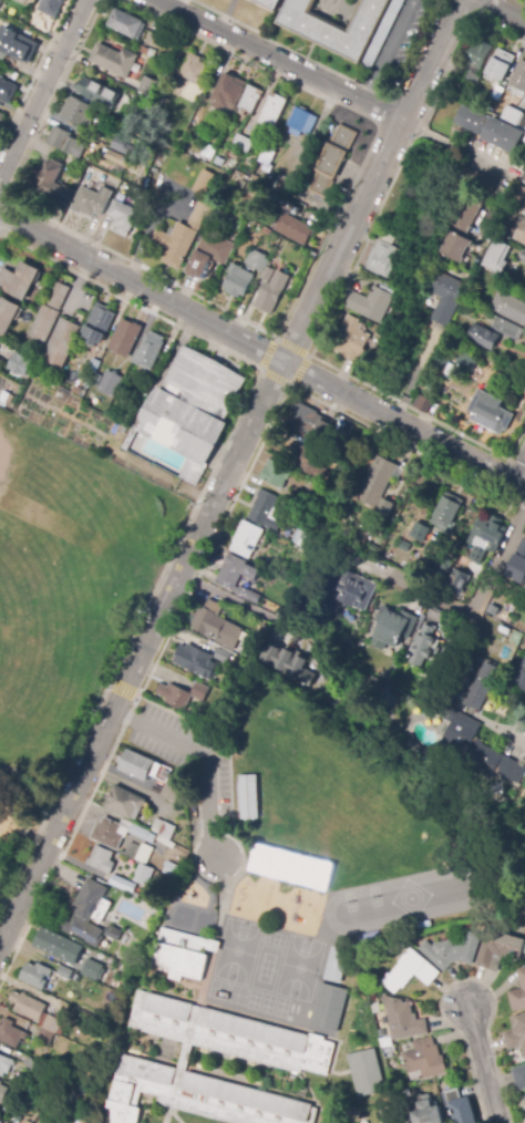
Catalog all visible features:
building: (0, 2)
building: (269, 3)
road: (178, 4)
building: (51, 7)
road: (502, 11)
building: (6, 14)
building: (346, 22)
building: (125, 23)
building: (6, 33)
building: (17, 49)
road: (388, 50)
road: (278, 58)
building: (114, 61)
building: (477, 61)
building: (500, 65)
building: (194, 70)
road: (34, 72)
building: (517, 80)
building: (147, 85)
road: (41, 90)
building: (7, 91)
building: (228, 92)
building: (498, 92)
building: (97, 93)
building: (140, 97)
building: (250, 100)
building: (272, 111)
building: (78, 112)
building: (1, 119)
building: (518, 120)
building: (472, 121)
building: (301, 122)
building: (503, 135)
building: (66, 142)
building: (243, 143)
building: (124, 146)
building: (208, 151)
building: (268, 157)
building: (117, 158)
building: (332, 161)
building: (48, 177)
building: (203, 182)
building: (481, 183)
building: (281, 184)
building: (64, 195)
building: (91, 202)
building: (467, 213)
building: (123, 217)
building: (295, 229)
building: (521, 233)
building: (184, 235)
building: (455, 246)
building: (215, 247)
building: (523, 256)
building: (384, 257)
building: (500, 257)
building: (257, 260)
building: (197, 267)
building: (268, 274)
road: (347, 278)
building: (19, 280)
building: (238, 281)
building: (271, 293)
building: (449, 299)
building: (371, 303)
building: (508, 308)
building: (49, 312)
building: (8, 316)
building: (99, 324)
building: (505, 327)
road: (272, 336)
road: (276, 337)
building: (484, 337)
building: (125, 338)
building: (351, 340)
building: (61, 343)
building: (150, 350)
road: (261, 351)
building: (466, 360)
building: (23, 363)
building: (92, 367)
building: (444, 368)
building: (96, 379)
building: (110, 383)
building: (76, 391)
building: (7, 398)
building: (137, 400)
building: (423, 403)
building: (189, 406)
building: (486, 409)
building: (310, 421)
building: (334, 459)
building: (315, 466)
road: (228, 472)
building: (276, 473)
road: (521, 475)
building: (380, 477)
park: (33, 484)
building: (312, 497)
building: (297, 499)
road: (193, 505)
building: (385, 507)
building: (266, 509)
building: (447, 513)
building: (418, 532)
building: (428, 533)
building: (488, 533)
building: (246, 540)
building: (374, 548)
building: (384, 555)
building: (401, 559)
road: (200, 564)
building: (264, 565)
building: (517, 569)
building: (236, 575)
building: (457, 581)
building: (356, 590)
road: (235, 598)
building: (460, 598)
road: (470, 606)
park: (65, 608)
building: (437, 616)
building: (289, 620)
building: (216, 625)
building: (393, 627)
park: (4, 632)
building: (423, 646)
building: (223, 656)
building: (194, 657)
building: (485, 657)
building: (289, 664)
building: (522, 673)
building: (373, 686)
building: (481, 687)
road: (121, 689)
building: (182, 696)
road: (518, 742)
building: (414, 748)
building: (481, 753)
road: (203, 758)
building: (432, 761)
building: (140, 765)
building: (166, 774)
building: (154, 789)
building: (174, 789)
building: (245, 795)
building: (125, 802)
building: (164, 832)
building: (119, 833)
building: (143, 853)
park: (0, 854)
building: (102, 859)
building: (171, 869)
building: (144, 875)
building: (122, 884)
building: (135, 895)
building: (150, 897)
building: (161, 903)
building: (86, 914)
building: (115, 934)
building: (53, 942)
building: (501, 950)
building: (452, 951)
building: (182, 956)
building: (338, 966)
building: (92, 969)
building: (410, 971)
building: (65, 972)
building: (35, 975)
road: (463, 977)
building: (103, 979)
building: (113, 993)
building: (518, 993)
building: (331, 1009)
building: (35, 1011)
building: (403, 1019)
building: (11, 1033)
building: (516, 1034)
building: (231, 1036)
building: (45, 1037)
building: (387, 1042)
building: (425, 1060)
road: (481, 1063)
building: (4, 1064)
building: (37, 1067)
building: (363, 1071)
building: (519, 1078)
building: (2, 1092)
building: (197, 1096)
building: (461, 1106)
building: (429, 1113)
building: (388, 1117)
building: (353, 1121)

